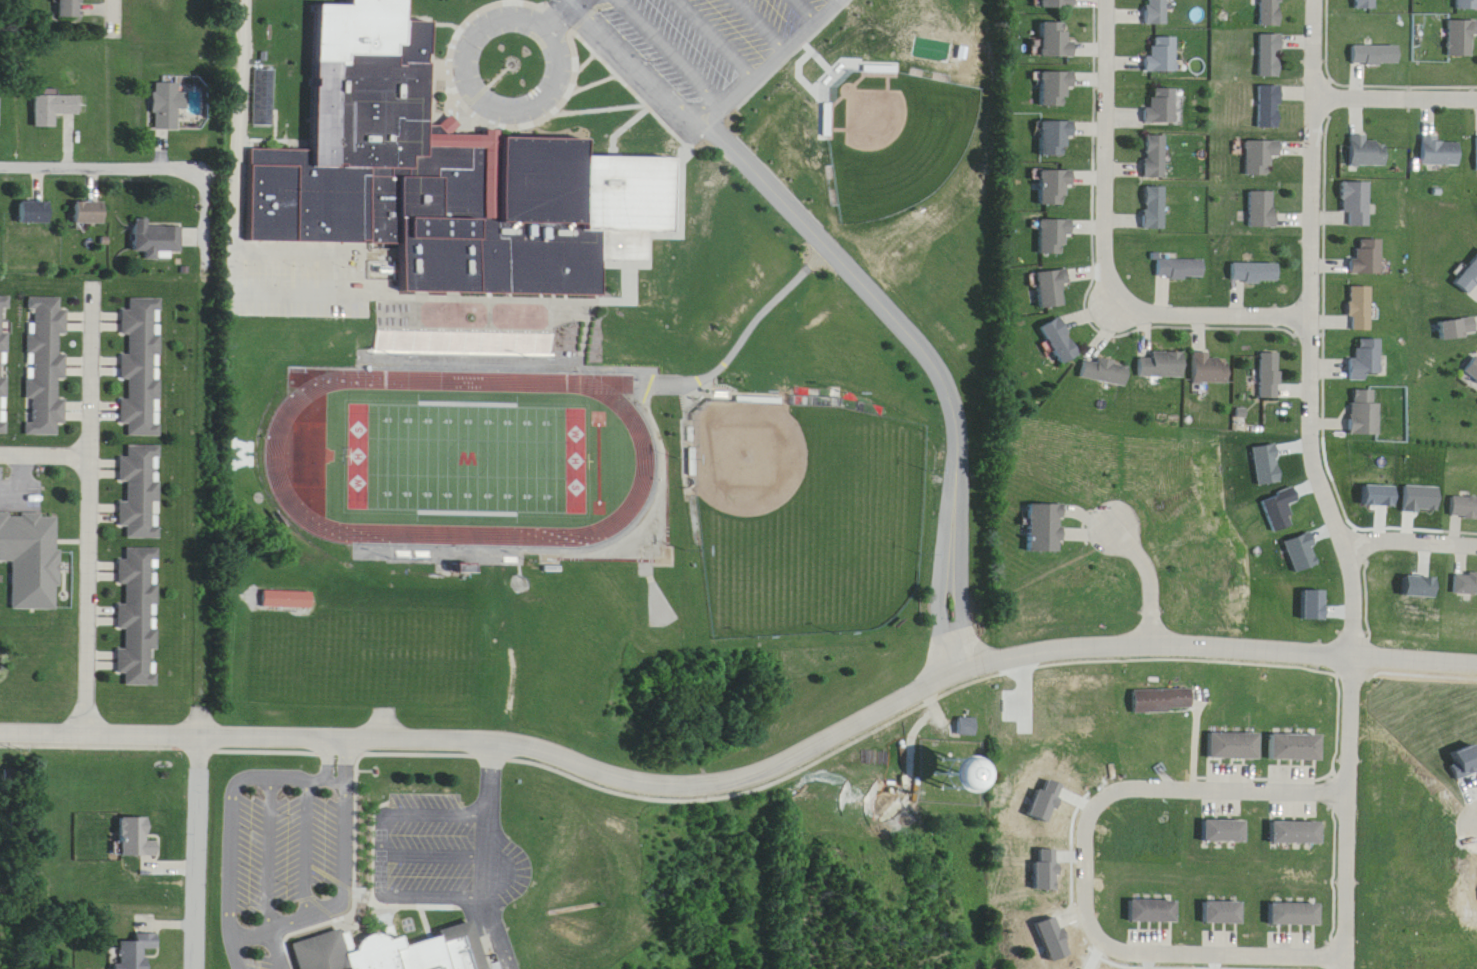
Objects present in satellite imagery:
building: (1057, 3)
road: (815, 4)
building: (1367, 4)
building: (1468, 4)
building: (71, 8)
road: (118, 8)
road: (562, 9)
building: (1155, 12)
building: (1272, 12)
road: (449, 13)
road: (767, 19)
road: (478, 28)
road: (725, 33)
parking lot: (707, 38)
building: (1464, 38)
building: (1055, 40)
road: (1317, 42)
road: (680, 47)
road: (591, 49)
flagpole: (518, 52)
building: (1161, 55)
building: (1272, 55)
building: (1378, 55)
road: (647, 57)
road: (766, 57)
road: (458, 67)
road: (599, 71)
building: (270, 83)
road: (1397, 85)
building: (1054, 88)
road: (605, 97)
building: (1161, 105)
building: (169, 106)
building: (1271, 107)
building: (55, 109)
building: (0, 110)
park: (858, 110)
building: (1055, 138)
building: (1369, 151)
building: (1442, 151)
road: (105, 154)
building: (1154, 156)
building: (1262, 156)
building: (446, 164)
road: (224, 167)
building: (1053, 187)
road: (240, 197)
building: (1358, 203)
building: (1153, 207)
building: (1264, 208)
road: (684, 209)
road: (206, 211)
building: (35, 212)
building: (90, 212)
building: (1052, 236)
building: (157, 240)
road: (315, 246)
road: (1102, 248)
building: (1370, 257)
parking lot: (301, 266)
building: (1178, 266)
building: (1256, 272)
building: (1469, 278)
building: (1050, 289)
building: (1362, 308)
road: (745, 322)
building: (1060, 341)
road: (924, 350)
building: (1368, 358)
building: (3, 363)
building: (1161, 364)
building: (44, 366)
building: (1472, 366)
building: (142, 367)
building: (1209, 368)
building: (1104, 371)
building: (1271, 375)
building: (1366, 412)
park: (471, 446)
road: (45, 457)
road: (16, 478)
building: (140, 492)
road: (89, 502)
building: (1465, 507)
park: (806, 510)
road: (1344, 524)
building: (1045, 528)
road: (1413, 528)
building: (31, 559)
building: (468, 569)
road: (1144, 574)
building: (1467, 584)
building: (289, 598)
building: (138, 616)
road: (1218, 637)
building: (1163, 700)
building: (967, 726)
road: (497, 731)
building: (1236, 746)
road: (824, 747)
building: (1299, 747)
road: (1268, 765)
road: (229, 804)
road: (1476, 822)
building: (1227, 831)
building: (1299, 833)
road: (306, 834)
parking lot: (421, 835)
road: (474, 836)
building: (136, 839)
road: (269, 841)
road: (199, 847)
parking lot: (278, 849)
road: (351, 855)
parking lot: (503, 857)
road: (1078, 866)
road: (342, 873)
road: (392, 883)
flagpole: (363, 901)
building: (1152, 911)
building: (1223, 913)
building: (1297, 915)
road: (251, 924)
building: (382, 943)
building: (136, 952)

